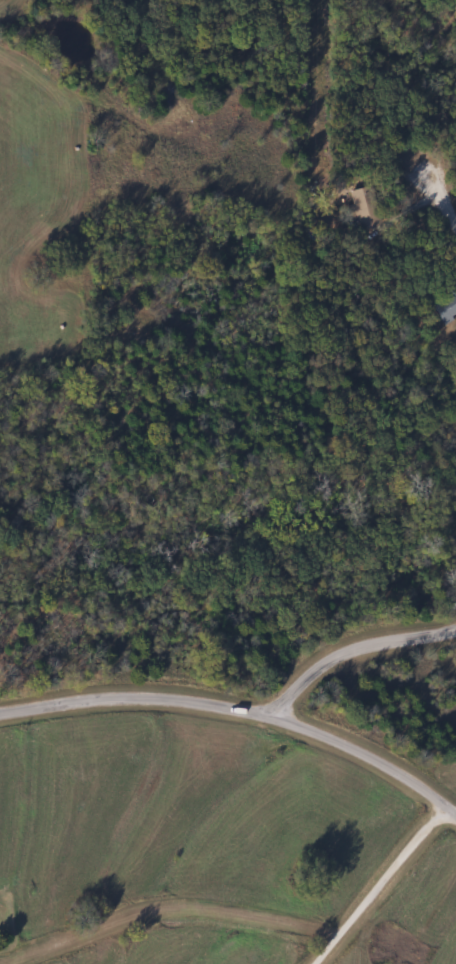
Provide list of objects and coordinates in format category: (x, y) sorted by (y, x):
road: (216, 173)
road: (439, 185)
building: (445, 308)
road: (353, 647)
road: (240, 706)
road: (379, 884)
road: (164, 904)
park: (0, 924)

